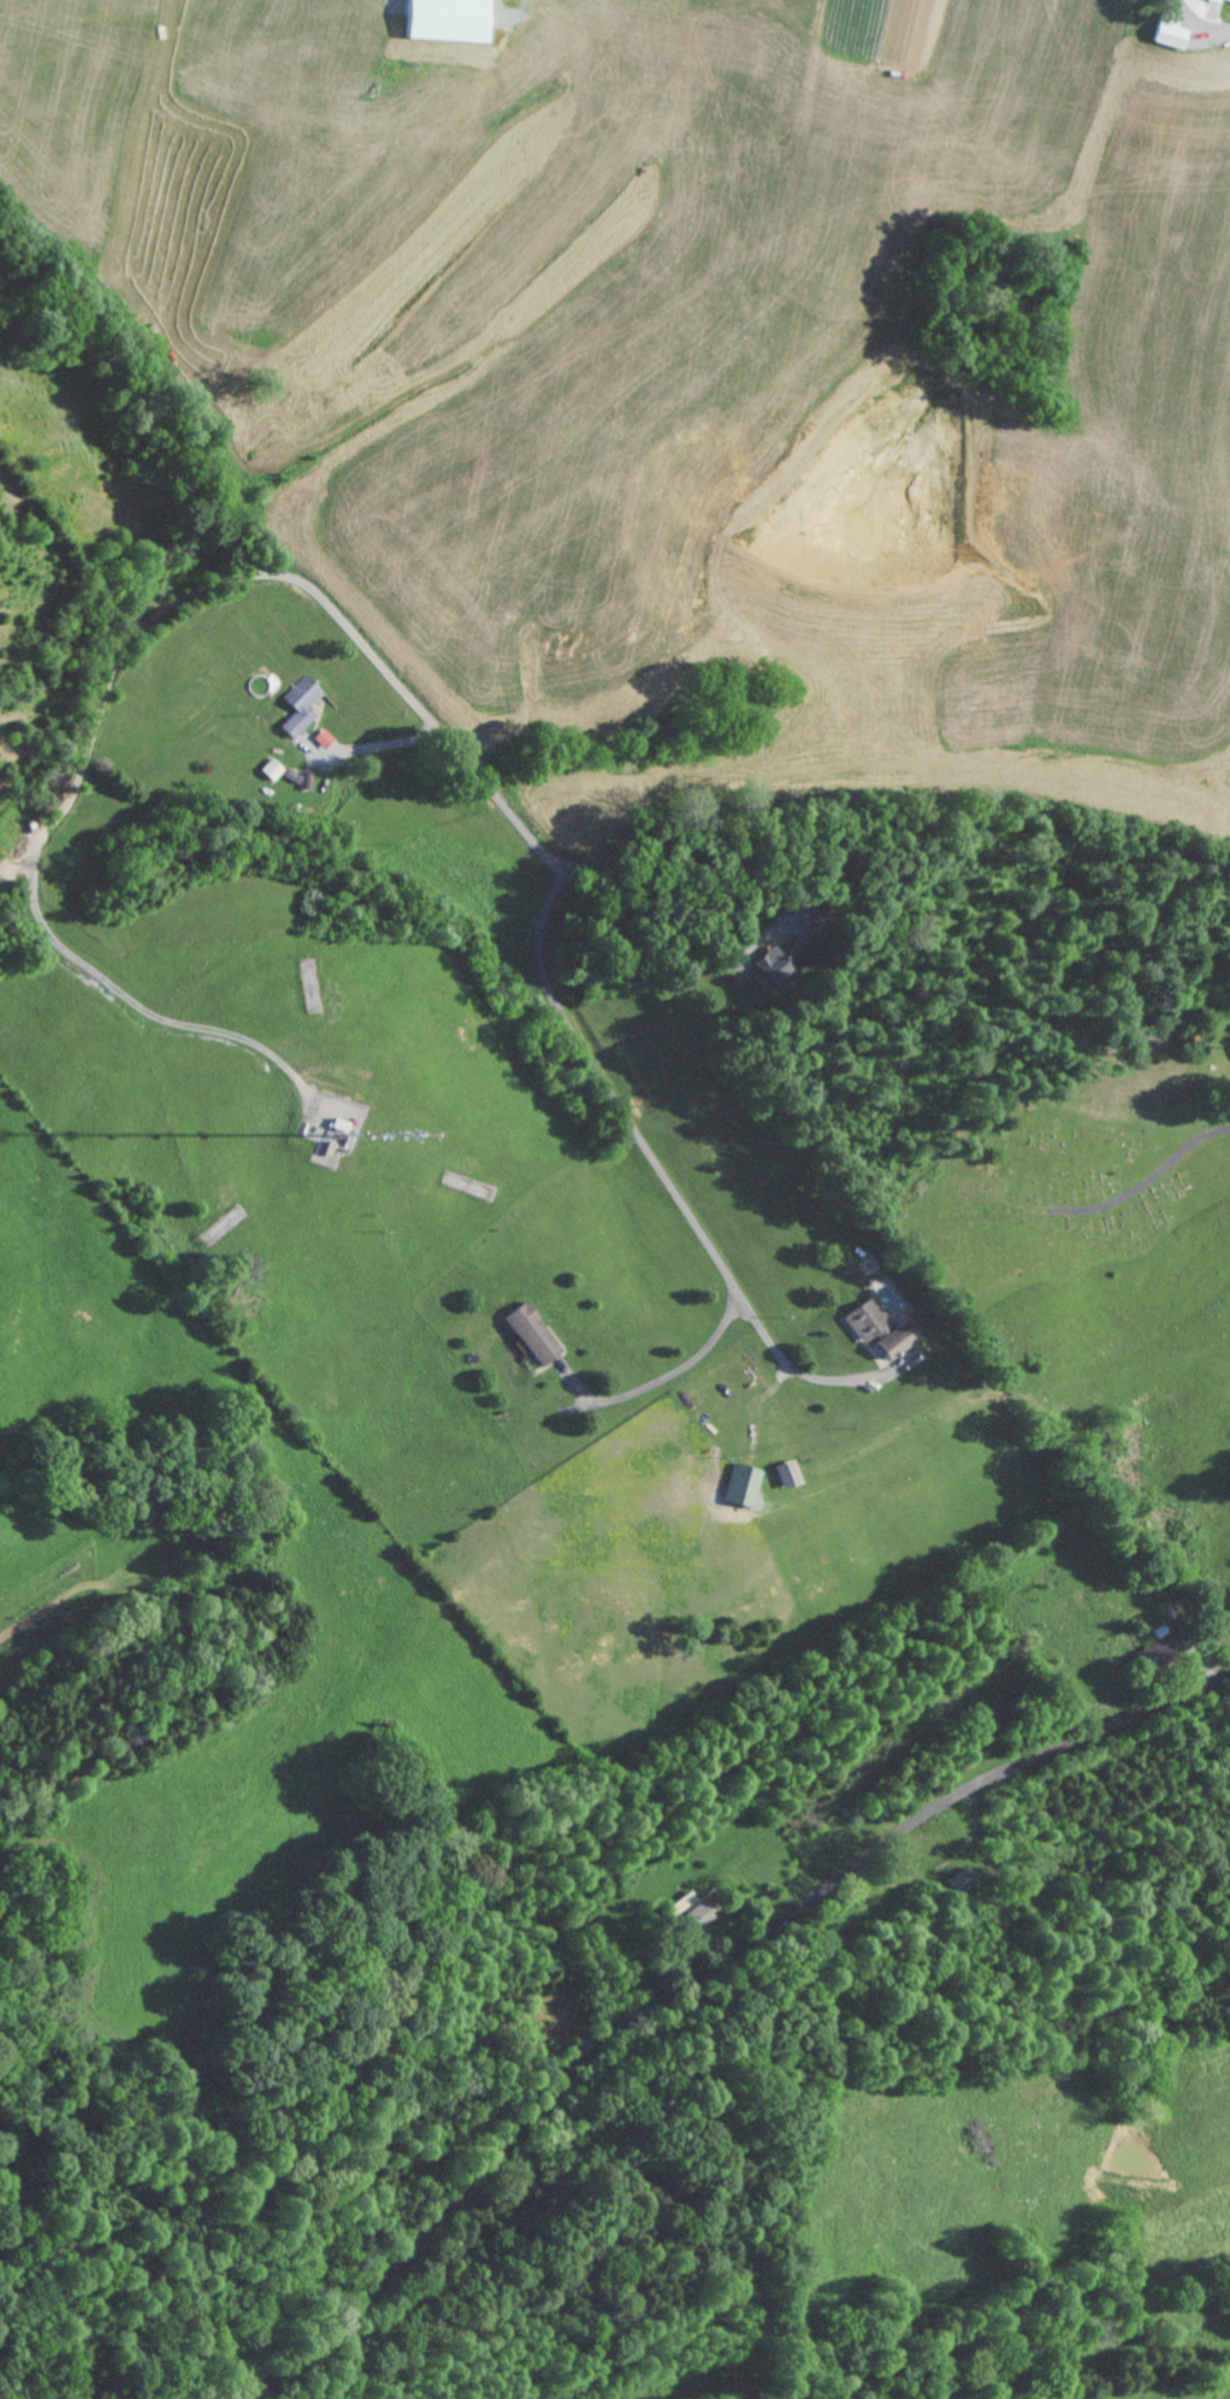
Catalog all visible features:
building: (1223, 1)
building: (457, 19)
building: (1177, 33)
road: (332, 614)
building: (306, 704)
building: (329, 738)
building: (277, 769)
road: (910, 799)
road: (63, 816)
building: (774, 968)
road: (621, 1107)
building: (886, 1328)
building: (539, 1333)
road: (663, 1379)
building: (792, 1473)
building: (747, 1484)
building: (965, 1880)
building: (696, 1910)
road: (692, 1985)

